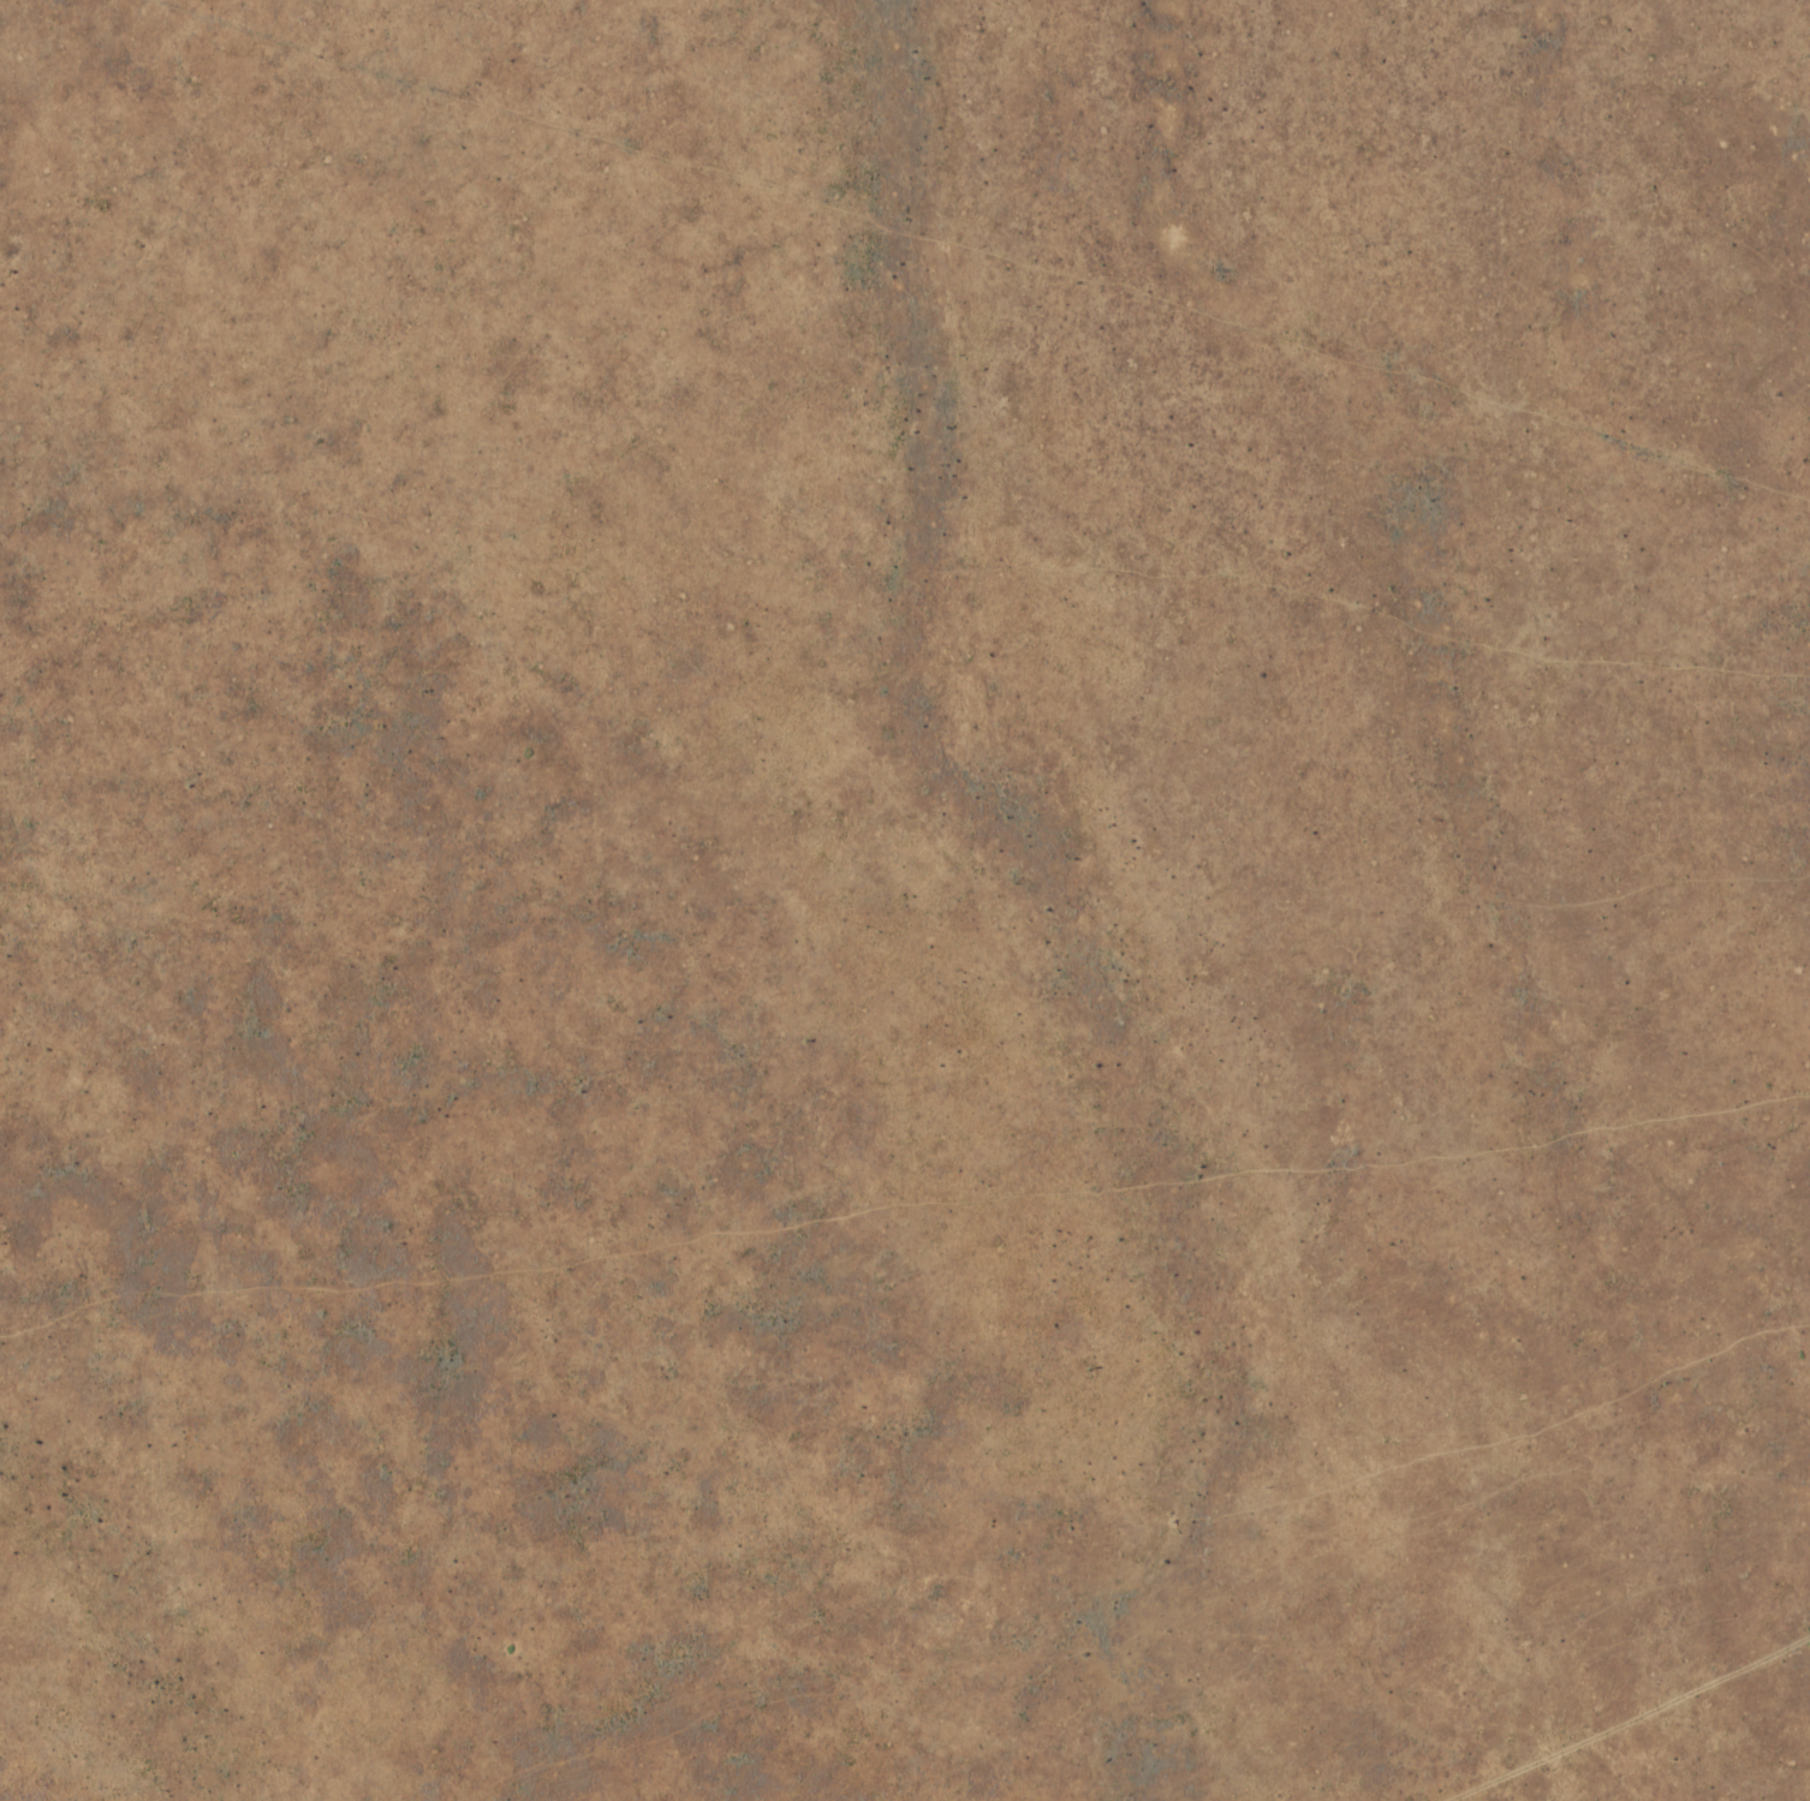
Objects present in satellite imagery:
road: (1612, 1707)

